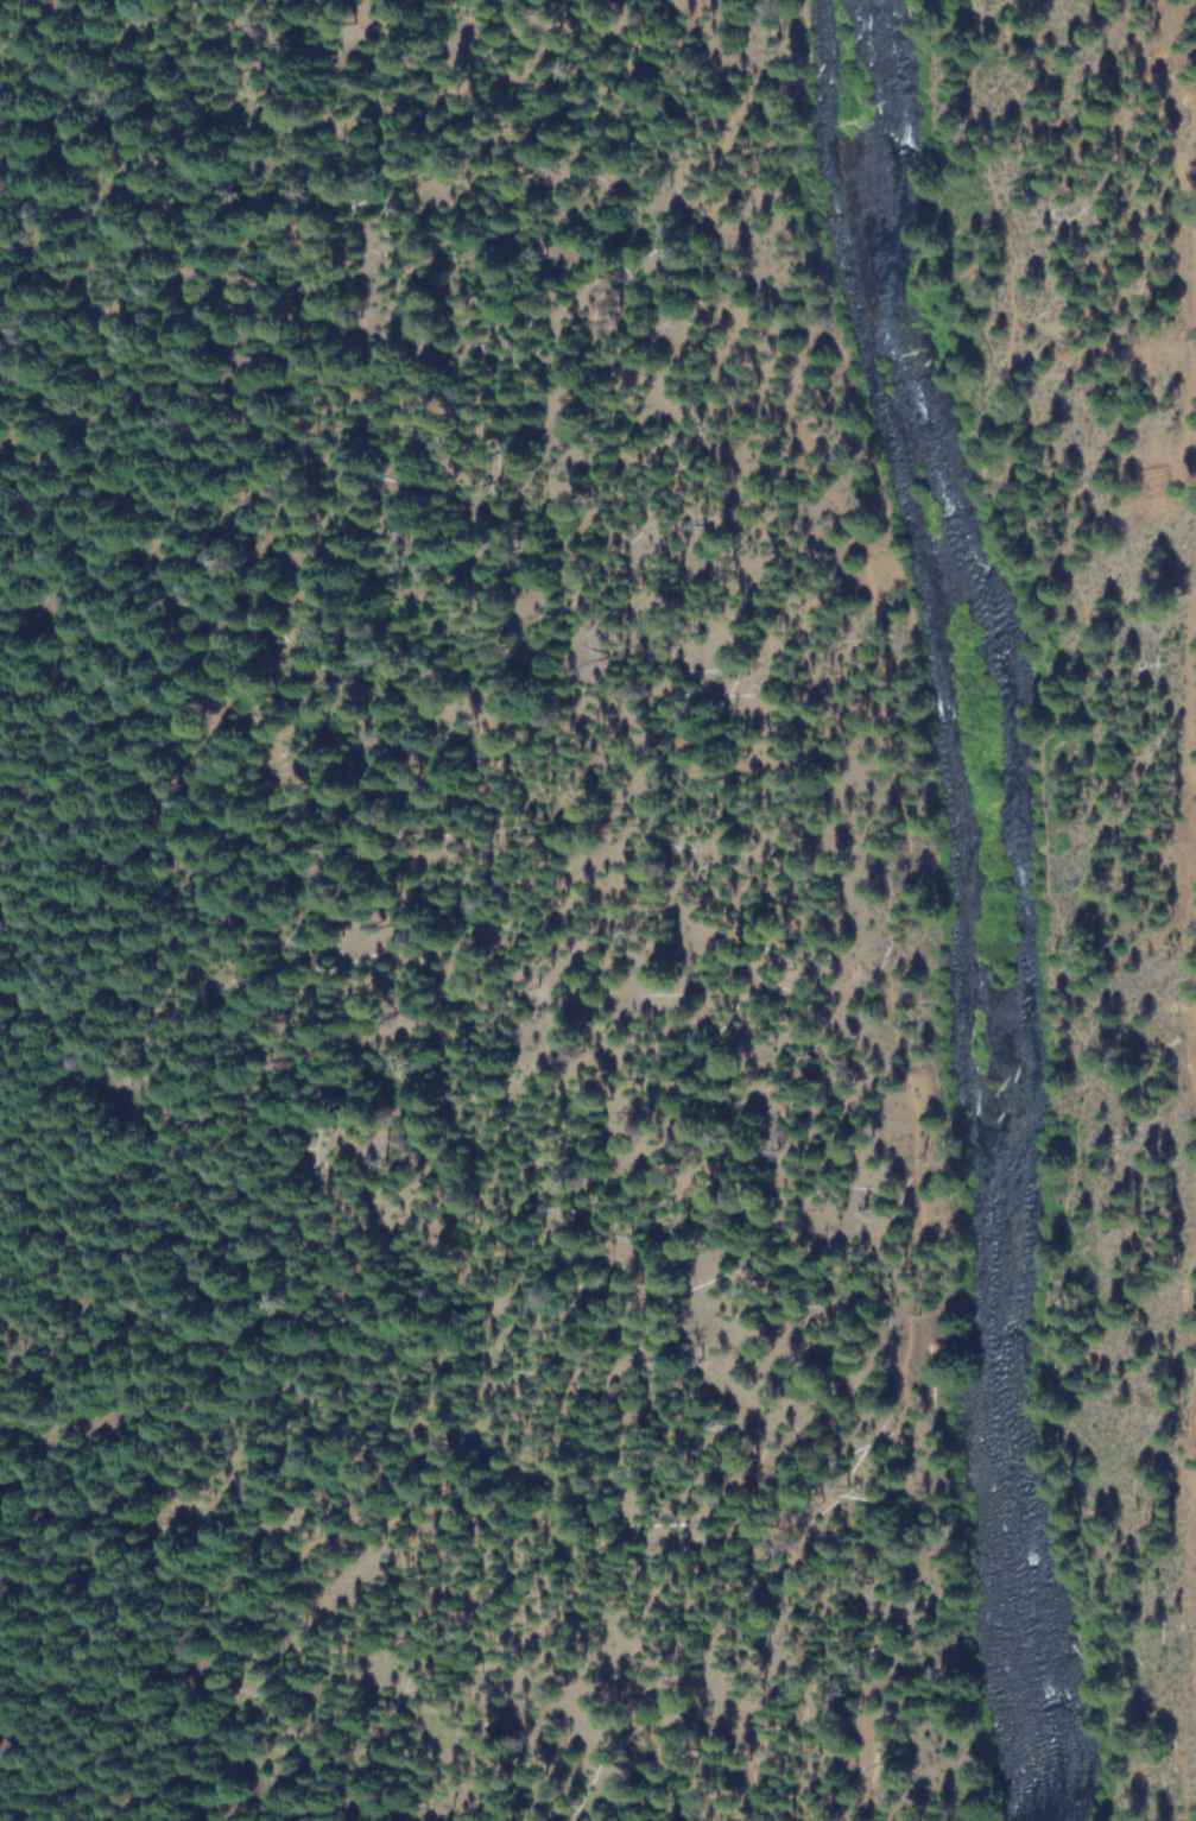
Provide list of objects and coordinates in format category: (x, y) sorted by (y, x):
road: (901, 894)
river: (1004, 899)
road: (1062, 905)

